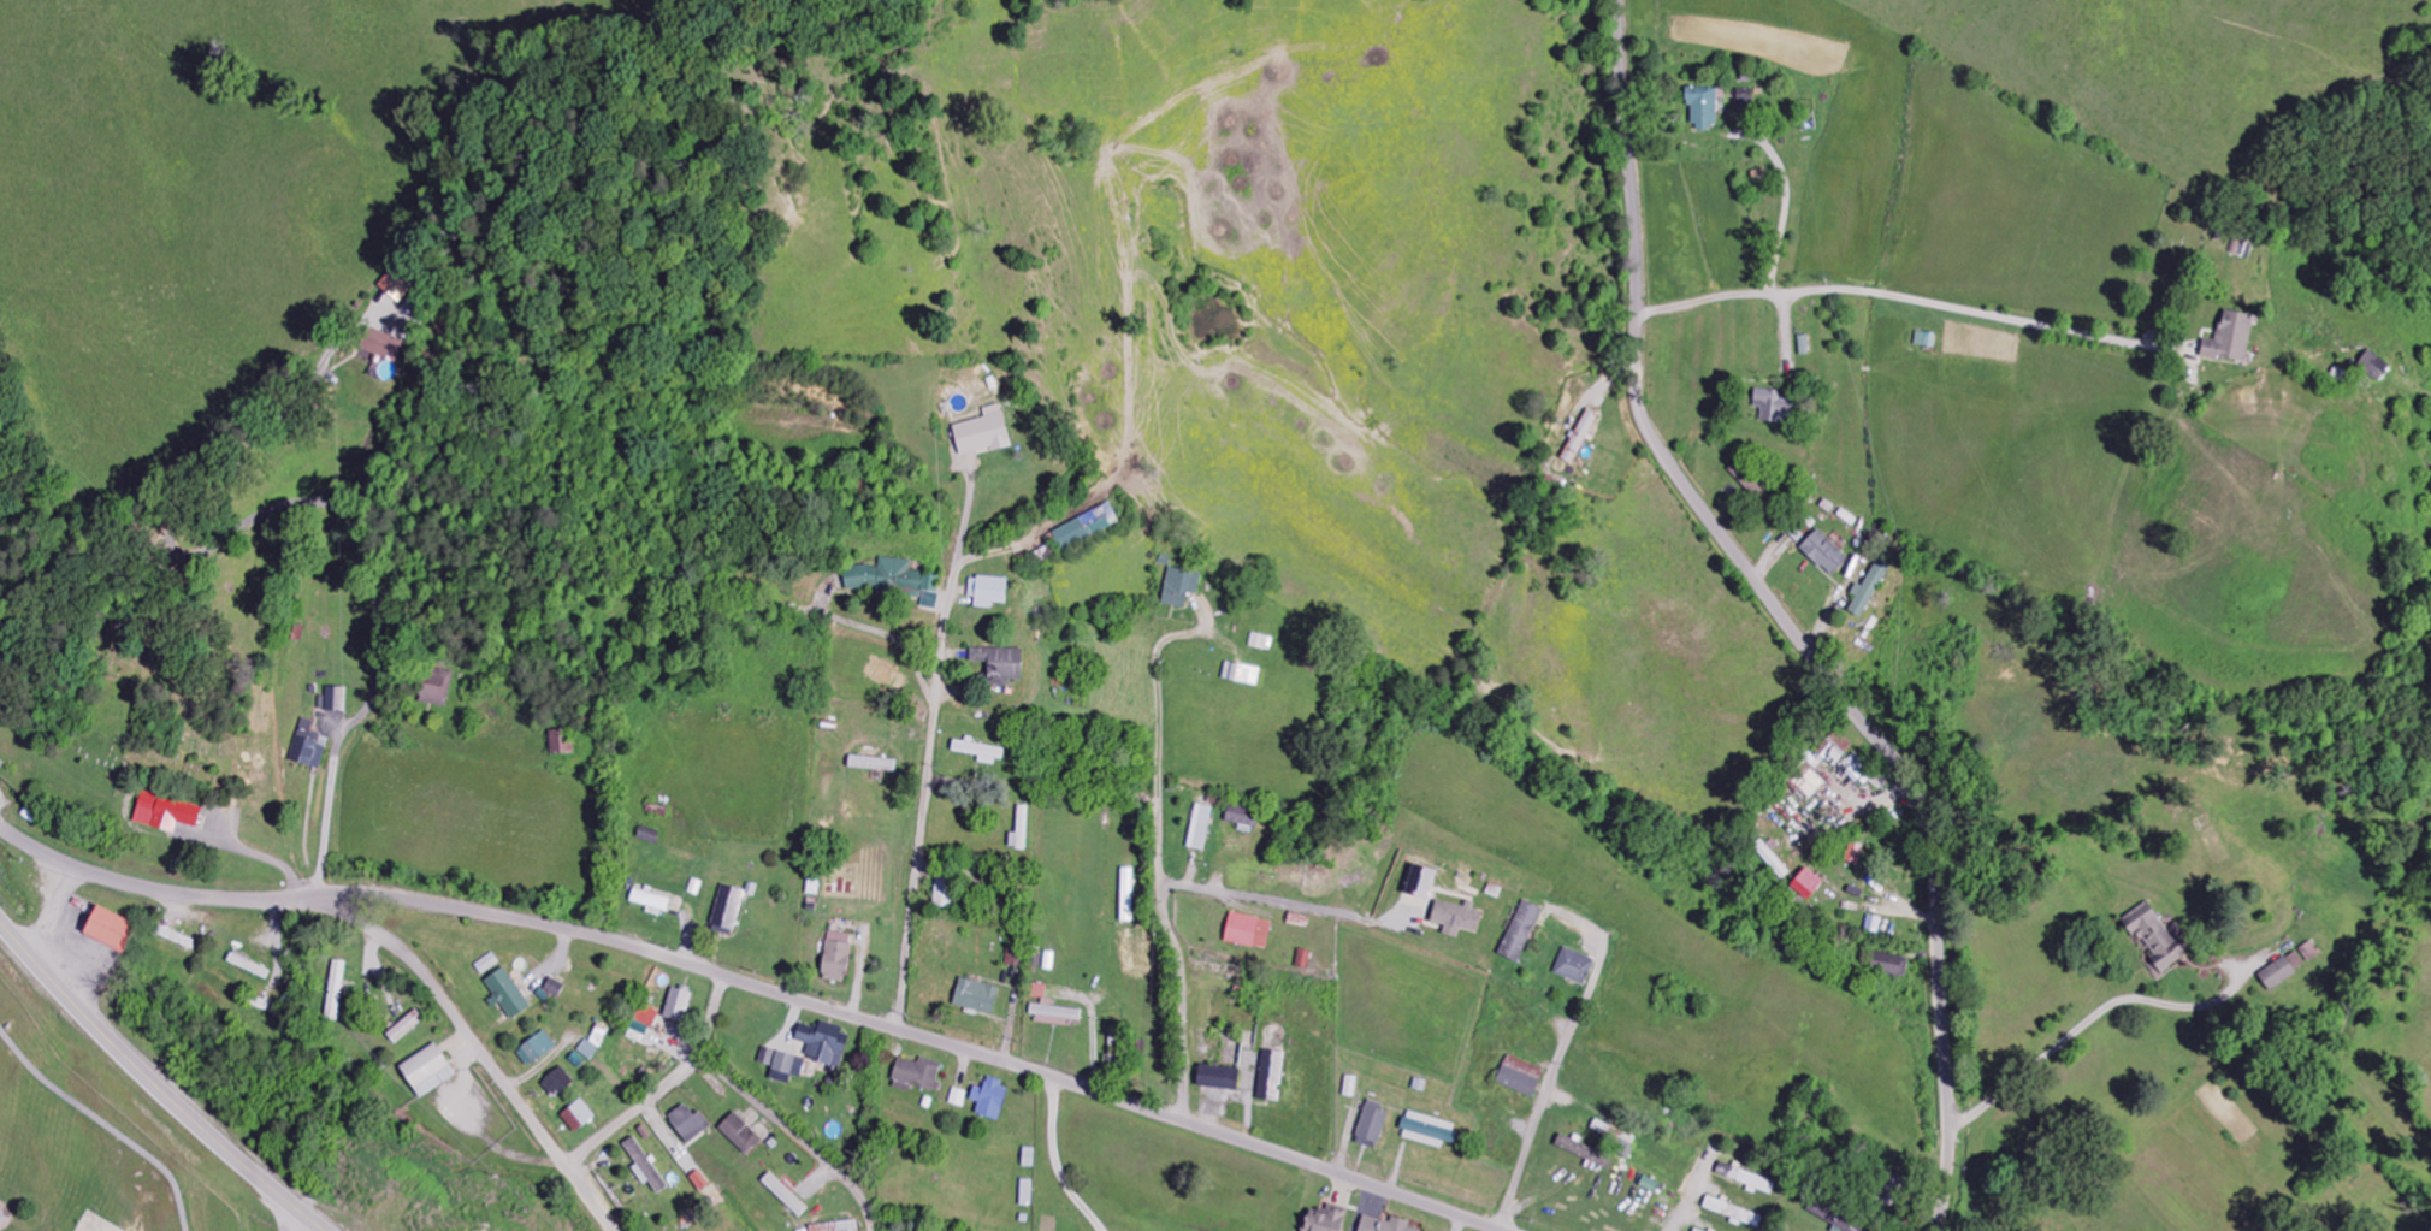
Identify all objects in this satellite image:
building: (1745, 100)
building: (1703, 107)
building: (398, 284)
building: (422, 294)
building: (2231, 338)
building: (381, 347)
building: (2374, 366)
building: (1774, 406)
building: (982, 433)
building: (1580, 437)
road: (314, 505)
building: (1087, 527)
building: (1824, 554)
building: (894, 580)
building: (1179, 587)
building: (1868, 590)
building: (988, 592)
road: (1780, 617)
building: (1261, 643)
building: (999, 665)
building: (1241, 674)
building: (438, 687)
building: (335, 700)
park: (173, 709)
building: (563, 742)
building: (307, 746)
building: (1830, 751)
building: (980, 752)
road: (928, 753)
building: (871, 764)
building: (1856, 768)
building: (1808, 783)
building: (166, 813)
building: (1242, 818)
building: (1200, 828)
building: (1022, 830)
building: (1855, 854)
road: (260, 858)
building: (1772, 860)
building: (1420, 883)
road: (1160, 884)
building: (1806, 884)
building: (944, 892)
building: (1126, 895)
road: (1255, 898)
building: (650, 902)
building: (727, 909)
building: (1455, 918)
road: (367, 929)
building: (108, 930)
building: (1247, 931)
building: (1520, 933)
building: (2155, 936)
building: (176, 939)
building: (2309, 952)
building: (835, 958)
building: (1889, 965)
building: (1574, 967)
building: (2283, 970)
building: (554, 988)
building: (336, 992)
building: (1039, 992)
building: (507, 995)
building: (976, 998)
building: (678, 1006)
building: (1054, 1014)
building: (647, 1016)
building: (404, 1028)
building: (639, 1034)
road: (913, 1035)
building: (599, 1036)
building: (823, 1044)
building: (536, 1049)
building: (588, 1051)
building: (783, 1067)
building: (427, 1071)
building: (916, 1075)
building: (1520, 1076)
building: (1271, 1077)
building: (1218, 1078)
building: (556, 1083)
road: (154, 1084)
road: (1548, 1085)
road: (666, 1087)
building: (1350, 1087)
building: (958, 1099)
building: (990, 1100)
building: (578, 1117)
building: (688, 1124)
building: (1371, 1125)
building: (1425, 1131)
building: (739, 1135)
road: (794, 1135)
building: (1616, 1137)
building: (1584, 1152)
building: (644, 1168)
building: (1746, 1178)
building: (698, 1182)
building: (1027, 1194)
building: (783, 1195)
building: (1733, 1213)
building: (1834, 1215)
building: (1324, 1219)
building: (1384, 1225)
building: (838, 1226)
building: (1696, 1230)

